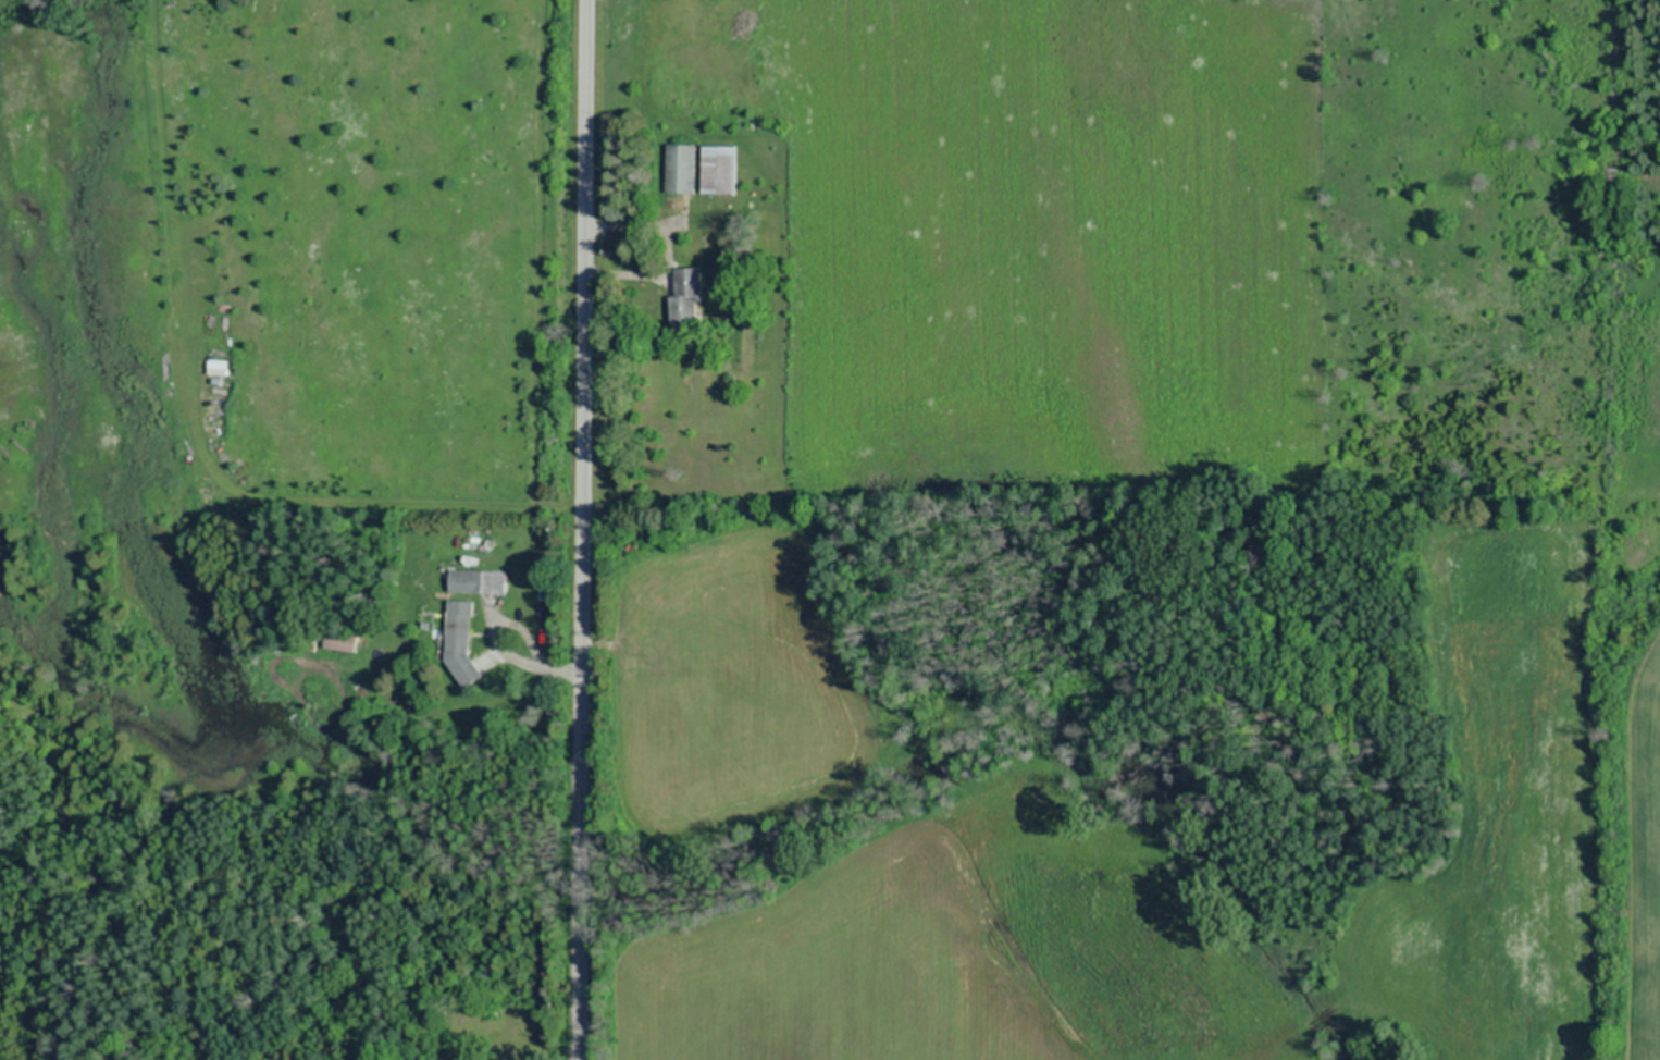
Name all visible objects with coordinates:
building: (681, 169)
building: (722, 169)
building: (689, 298)
building: (218, 367)
road: (584, 530)
building: (479, 581)
building: (462, 640)
building: (343, 641)

